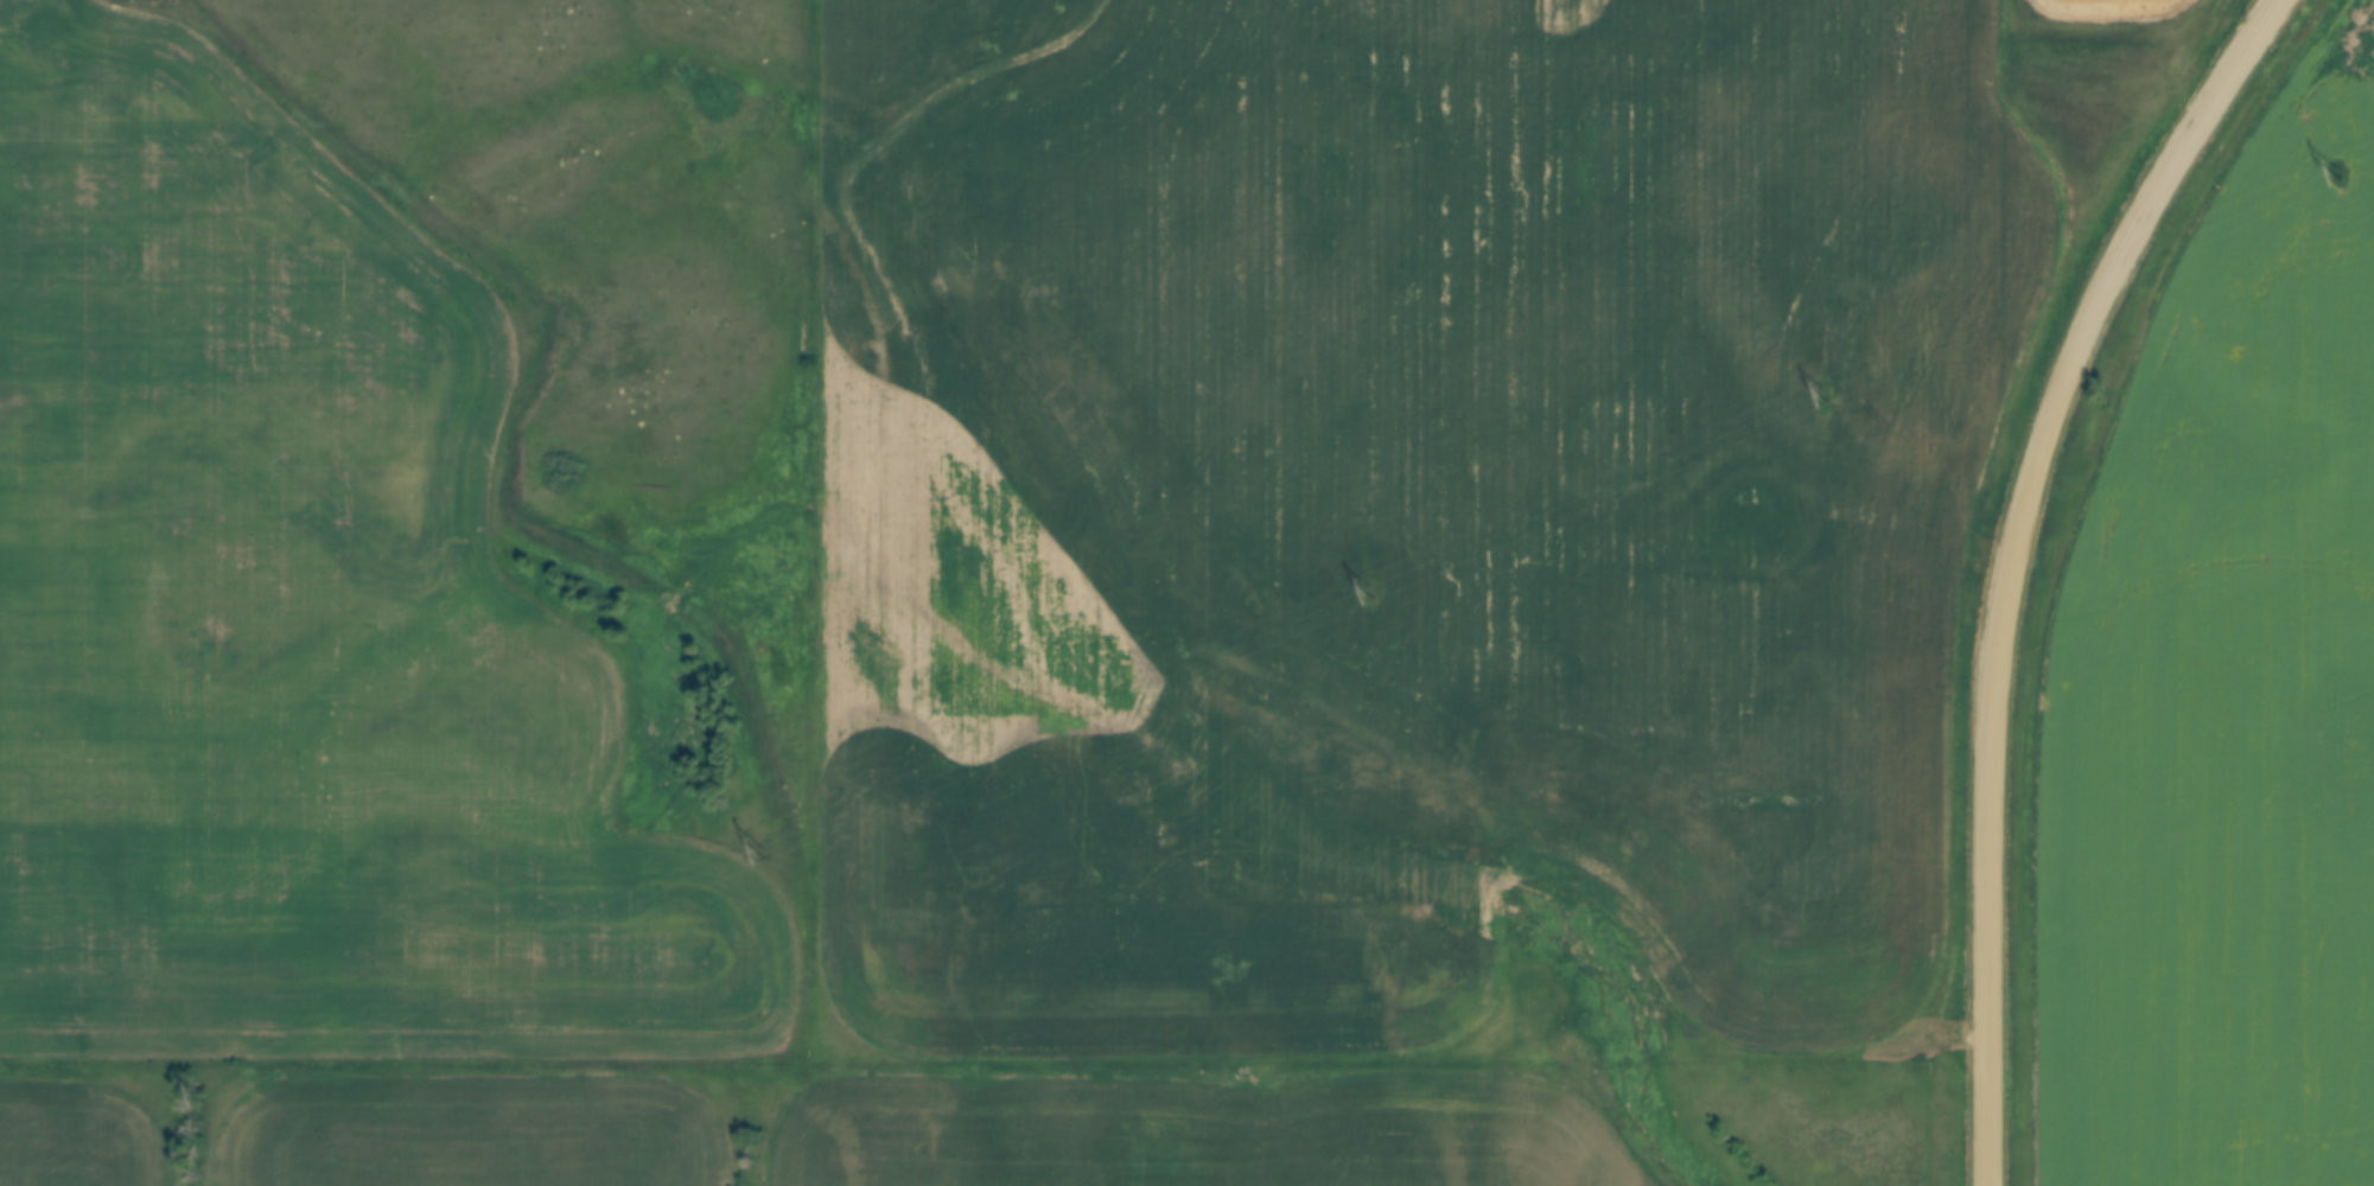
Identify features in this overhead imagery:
power tower: (2337, 171)
power tower: (1824, 393)
road: (2011, 561)
power tower: (1369, 589)
power tower: (763, 852)
power tower: (199, 1095)

